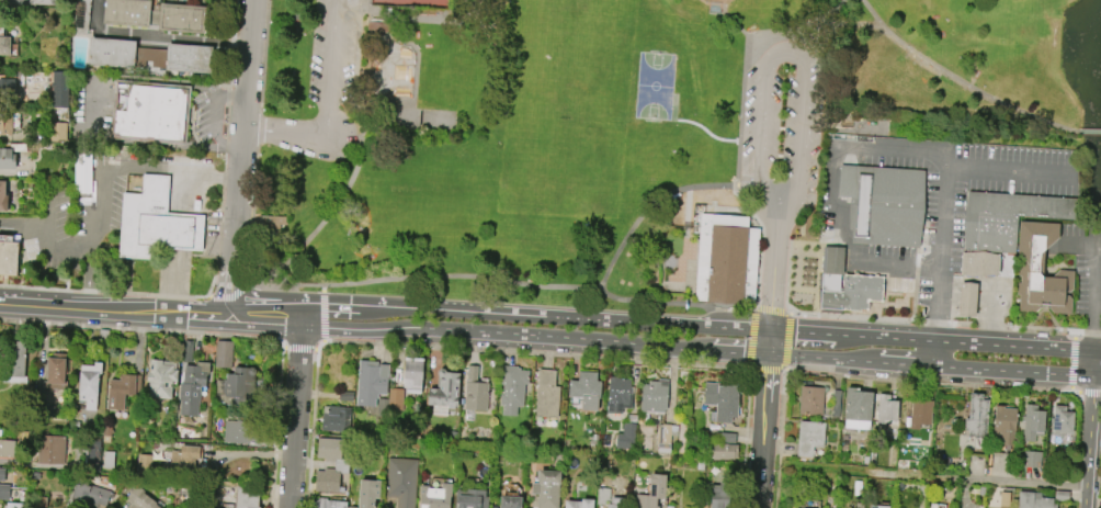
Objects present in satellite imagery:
road: (390, 1)
building: (42, 2)
park: (410, 2)
road: (348, 11)
building: (126, 12)
building: (81, 16)
building: (181, 18)
road: (420, 19)
road: (814, 23)
building: (377, 26)
road: (390, 27)
road: (160, 34)
road: (791, 36)
building: (3, 43)
parking lot: (332, 49)
building: (111, 53)
road: (784, 54)
road: (263, 57)
building: (188, 58)
road: (355, 59)
park: (394, 70)
building: (31, 78)
road: (956, 78)
building: (7, 88)
building: (59, 89)
park: (656, 89)
road: (229, 93)
road: (395, 99)
road: (740, 102)
road: (329, 110)
building: (149, 112)
building: (59, 114)
road: (93, 116)
park: (568, 120)
building: (8, 122)
road: (213, 129)
road: (258, 131)
building: (58, 132)
road: (1085, 132)
park: (616, 135)
road: (226, 142)
building: (19, 147)
road: (893, 148)
road: (240, 156)
building: (7, 158)
road: (1010, 167)
road: (99, 168)
building: (2, 197)
building: (883, 204)
road: (746, 205)
road: (252, 214)
road: (325, 214)
building: (1007, 218)
building: (273, 222)
building: (155, 223)
road: (49, 229)
parking lot: (212, 234)
road: (774, 237)
road: (814, 242)
building: (8, 258)
road: (44, 259)
building: (726, 259)
parking lot: (1083, 262)
building: (978, 263)
road: (608, 264)
road: (127, 267)
road: (758, 268)
building: (1041, 271)
road: (773, 273)
road: (1097, 274)
road: (56, 276)
road: (213, 278)
road: (423, 278)
road: (787, 278)
road: (171, 281)
building: (845, 284)
road: (913, 284)
road: (322, 287)
road: (127, 290)
road: (815, 290)
road: (104, 292)
road: (231, 295)
gas station: (966, 300)
building: (967, 300)
road: (906, 303)
road: (352, 305)
road: (742, 308)
road: (1043, 308)
road: (115, 311)
road: (772, 312)
road: (322, 316)
road: (624, 318)
road: (931, 323)
traffic signals: (771, 328)
road: (143, 330)
road: (499, 330)
road: (1087, 332)
road: (1074, 335)
road: (935, 337)
building: (103, 338)
road: (752, 339)
road: (771, 339)
road: (786, 342)
road: (298, 348)
building: (189, 351)
road: (531, 351)
traffic signals: (772, 351)
building: (223, 353)
road: (820, 354)
road: (903, 361)
building: (15, 362)
road: (1071, 364)
road: (1019, 369)
road: (768, 370)
building: (412, 374)
building: (161, 379)
building: (53, 381)
building: (372, 381)
road: (927, 382)
building: (89, 384)
building: (191, 387)
building: (235, 387)
building: (513, 388)
building: (445, 390)
building: (584, 390)
building: (120, 391)
building: (476, 392)
road: (1075, 392)
road: (1090, 392)
building: (546, 394)
building: (345, 395)
building: (617, 395)
building: (396, 396)
building: (654, 396)
building: (722, 400)
building: (810, 400)
building: (836, 403)
road: (294, 405)
building: (383, 407)
building: (886, 408)
building: (856, 409)
building: (920, 414)
building: (976, 416)
building: (337, 419)
building: (1031, 422)
building: (1003, 424)
building: (1059, 424)
road: (277, 427)
road: (311, 429)
road: (767, 429)
road: (1091, 429)
building: (240, 432)
building: (107, 434)
building: (625, 437)
building: (726, 437)
building: (665, 438)
road: (742, 438)
building: (809, 438)
road: (780, 439)
building: (377, 445)
building: (7, 448)
building: (52, 450)
building: (723, 451)
building: (93, 455)
building: (107, 459)
building: (1032, 460)
building: (183, 461)
building: (143, 464)
building: (341, 464)
building: (1, 475)
building: (36, 476)
road: (979, 479)
building: (402, 482)
building: (547, 488)
building: (654, 489)
building: (4, 492)
building: (367, 493)
building: (91, 495)
building: (718, 495)
building: (435, 496)
building: (245, 497)
building: (602, 497)
building: (472, 498)
building: (141, 499)
building: (1003, 499)
building: (1038, 499)
building: (511, 500)
building: (38, 501)
building: (328, 504)
building: (578, 504)
building: (0, 505)
building: (13, 505)
building: (226, 506)
building: (669, 506)
building: (877, 506)
building: (350, 507)

